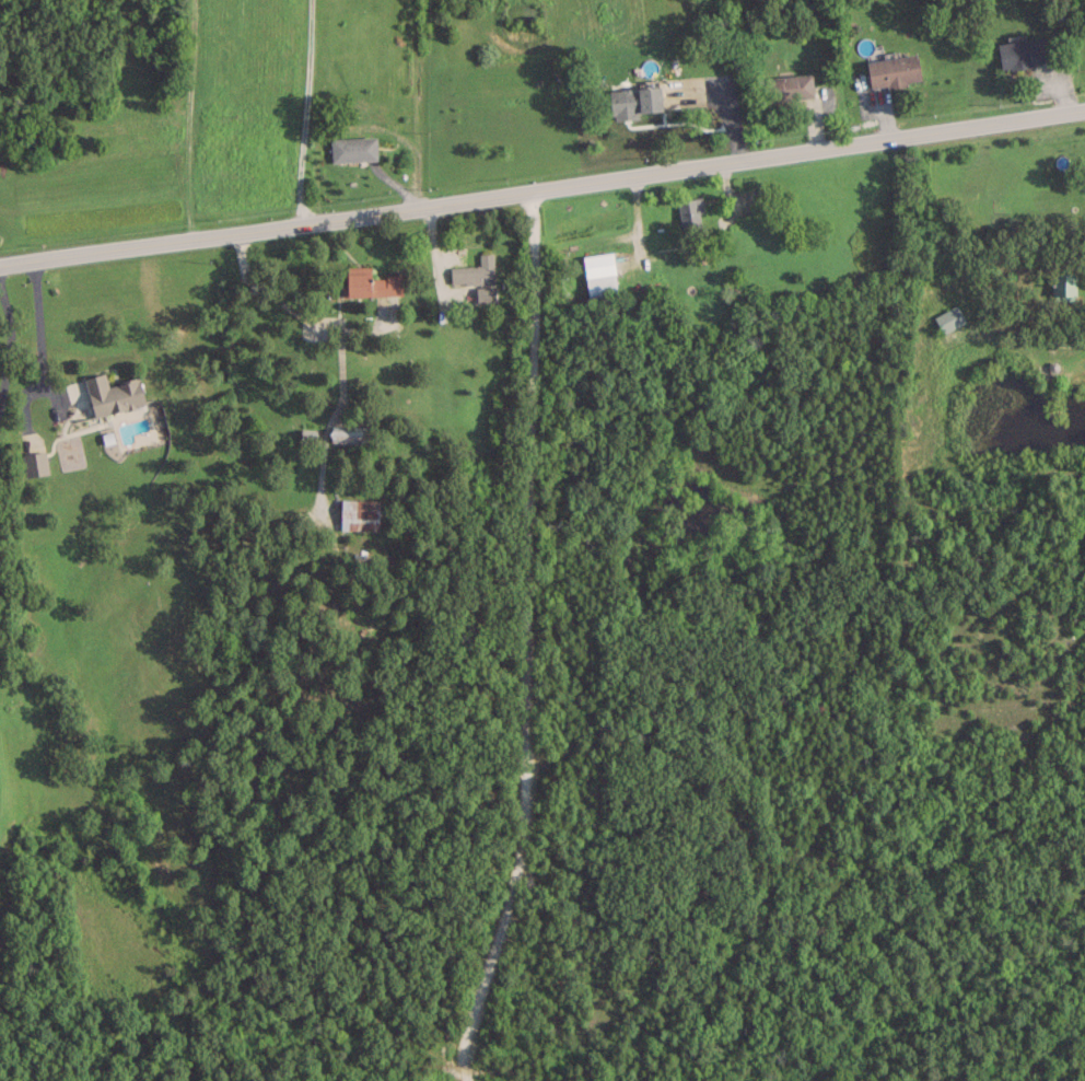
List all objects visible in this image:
building: (1022, 51)
building: (892, 70)
building: (789, 85)
building: (635, 101)
road: (303, 108)
road: (186, 117)
building: (353, 148)
road: (541, 184)
building: (690, 212)
building: (474, 270)
building: (599, 272)
building: (372, 283)
building: (1063, 286)
building: (949, 318)
road: (1081, 327)
road: (38, 335)
road: (8, 342)
road: (337, 342)
building: (113, 394)
building: (349, 434)
building: (307, 437)
building: (35, 463)
building: (359, 514)
road: (522, 638)

